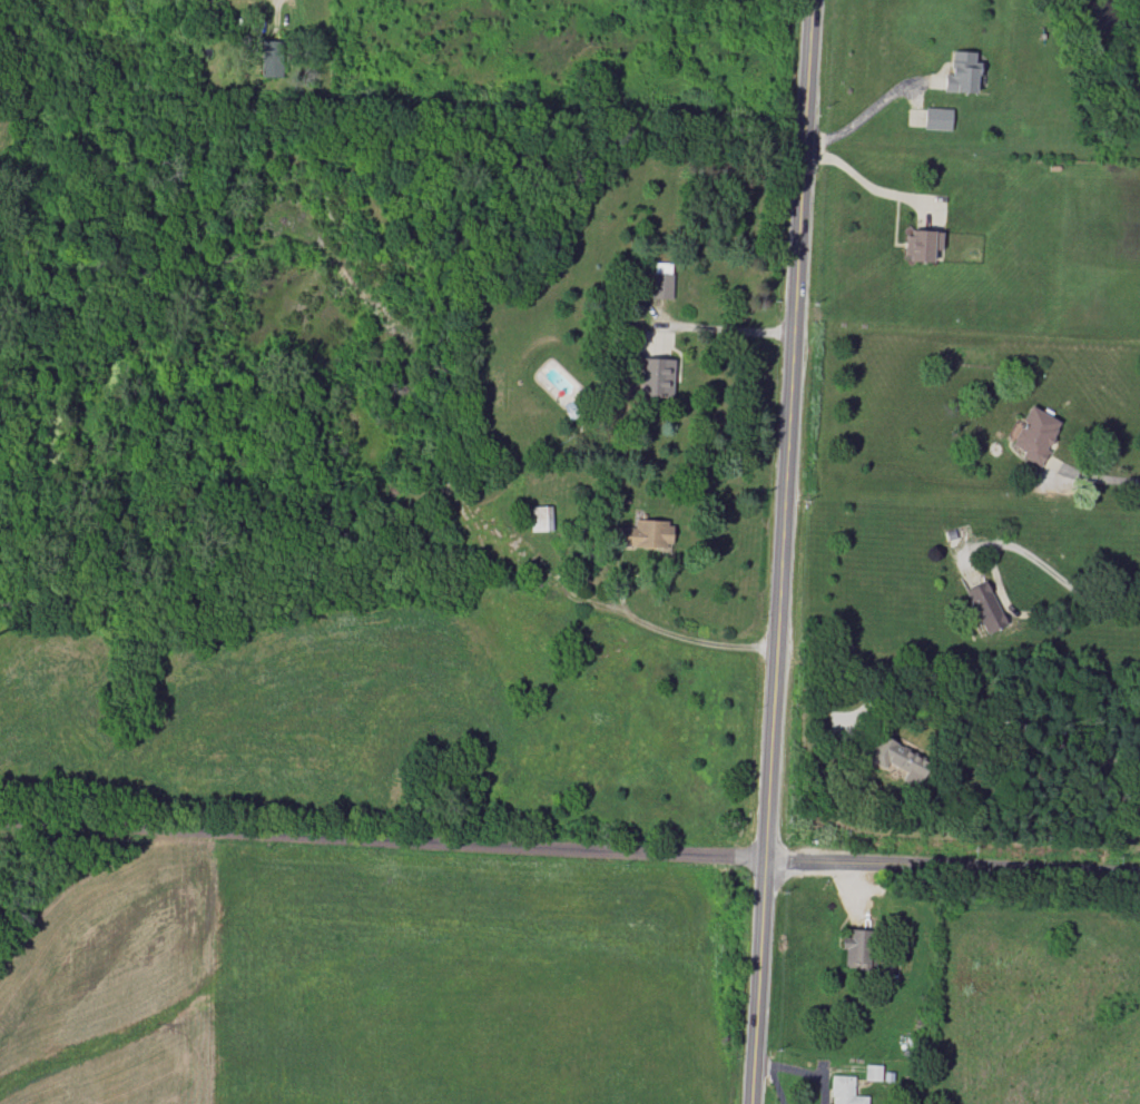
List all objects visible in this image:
road: (277, 9)
building: (272, 59)
building: (962, 72)
road: (868, 110)
building: (937, 118)
crop: (21, 142)
road: (865, 180)
building: (922, 244)
building: (661, 285)
road: (723, 328)
building: (656, 377)
building: (1035, 434)
road: (1100, 477)
building: (540, 519)
building: (643, 534)
road: (784, 551)
road: (991, 560)
road: (1121, 601)
building: (984, 607)
road: (695, 640)
crop: (258, 706)
road: (993, 714)
building: (898, 759)
road: (384, 837)
road: (954, 866)
building: (855, 948)
building: (872, 1072)
building: (845, 1091)

